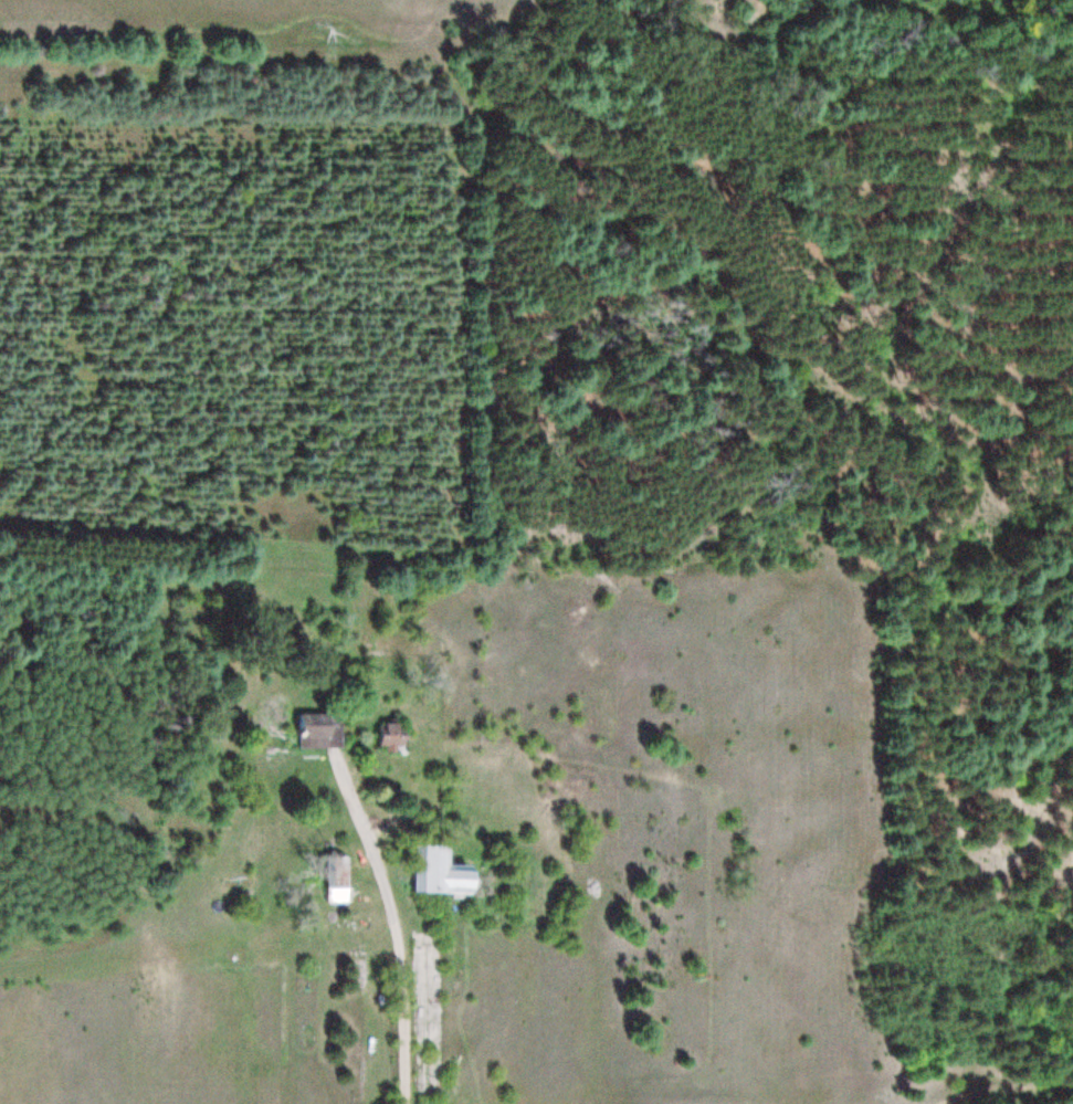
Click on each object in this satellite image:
building: (327, 729)
building: (444, 870)
road: (395, 929)
road: (1003, 1085)

